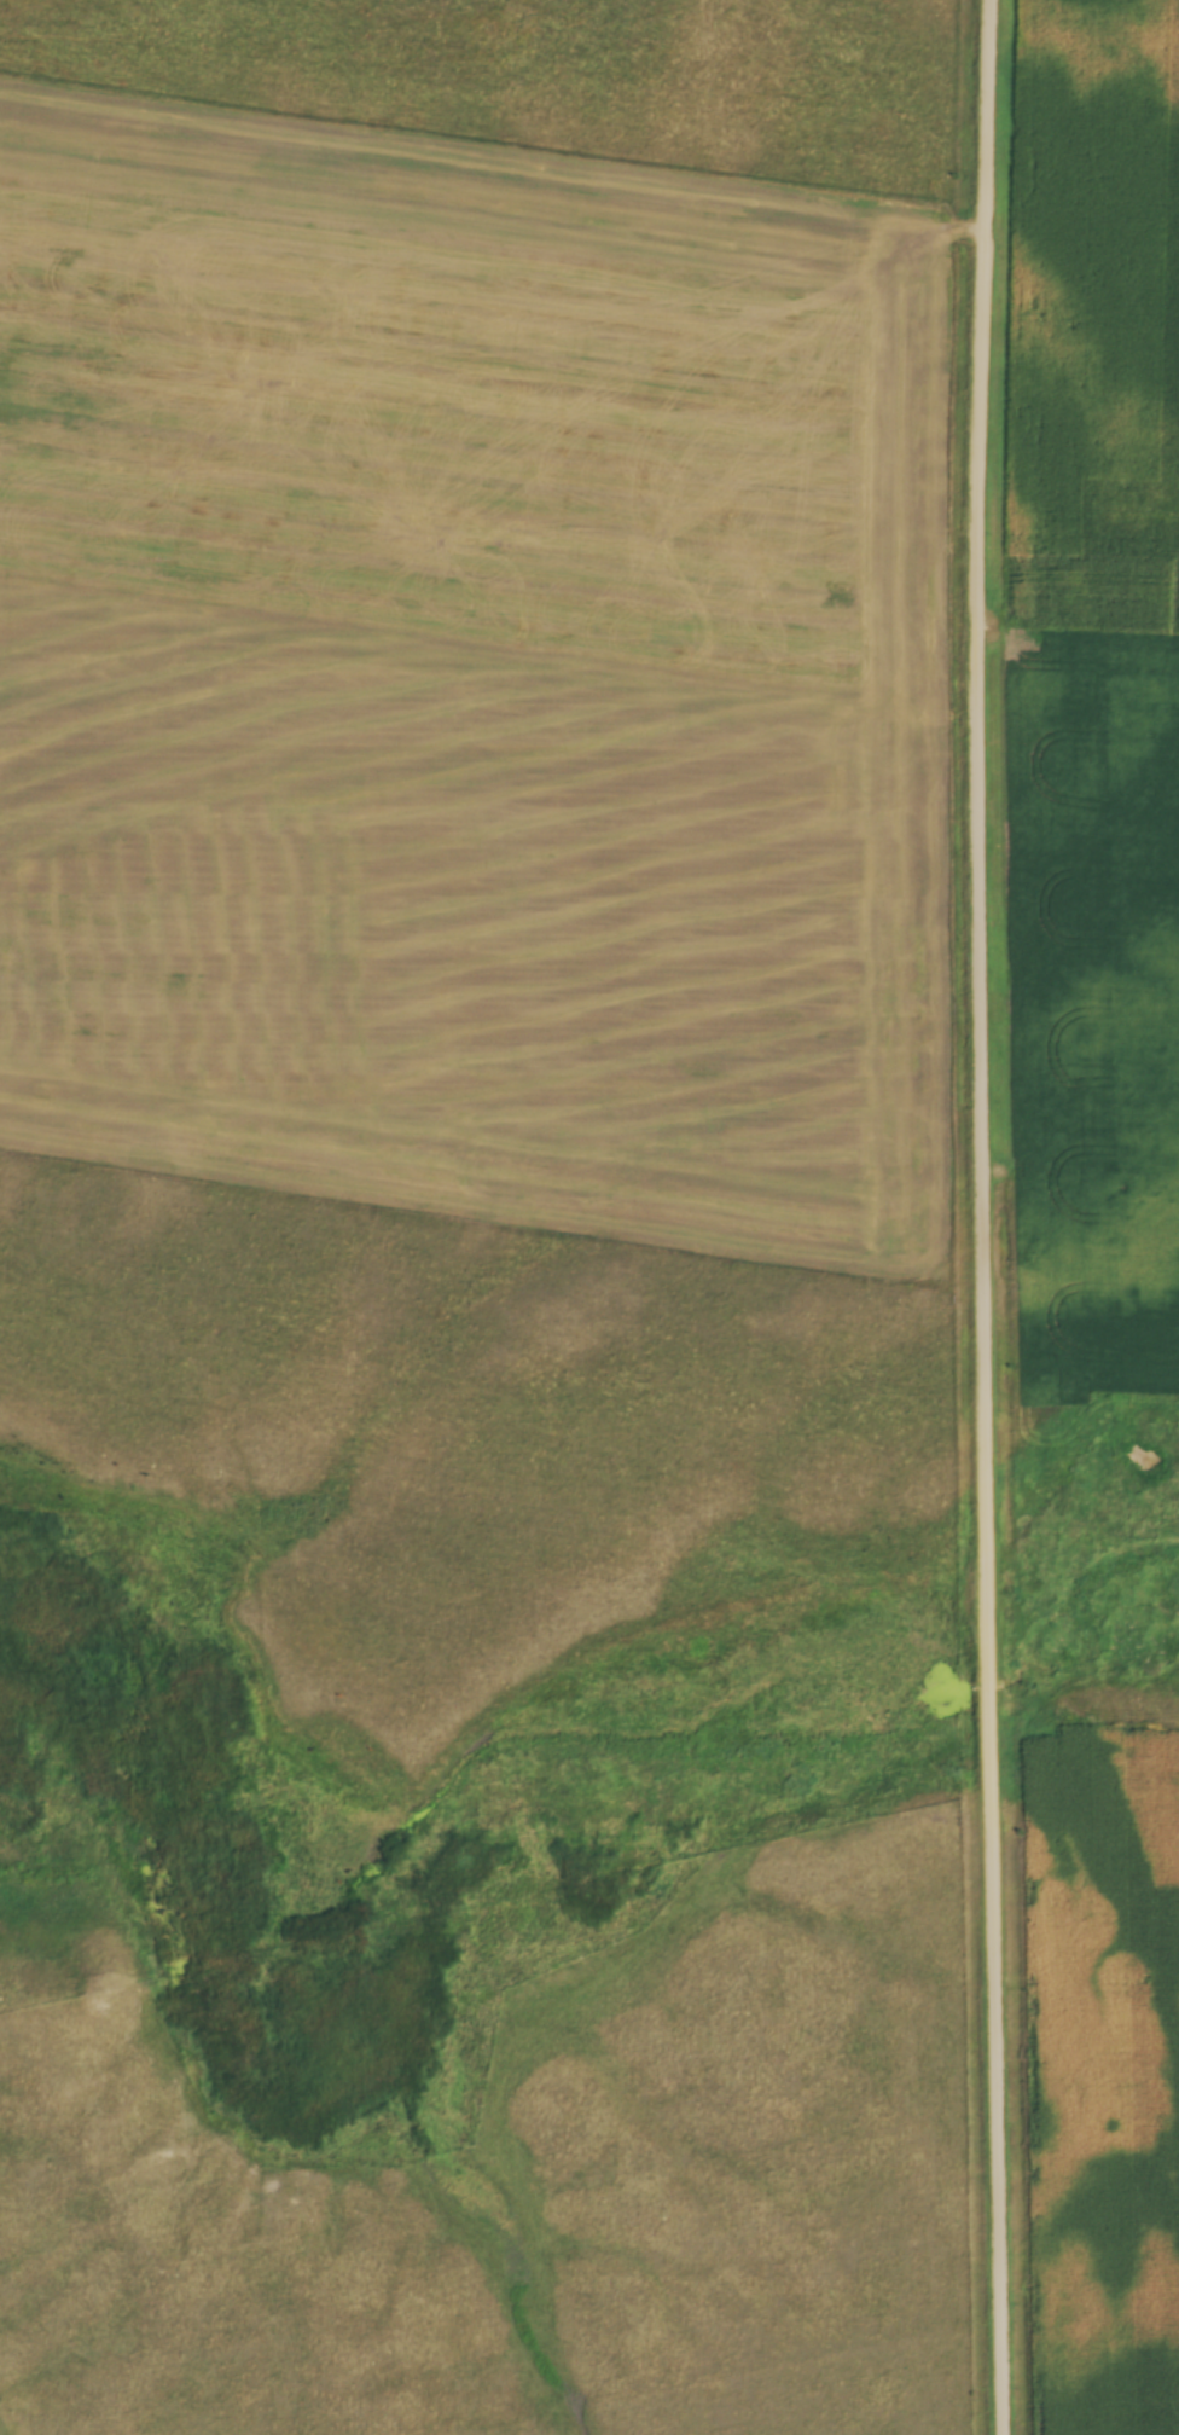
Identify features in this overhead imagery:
road: (980, 1217)

